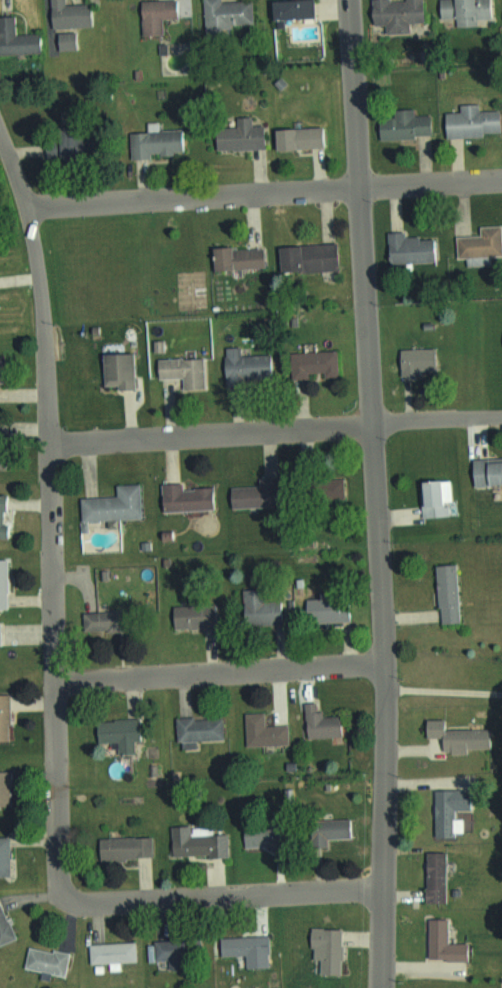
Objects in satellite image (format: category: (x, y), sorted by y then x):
building: (287, 8)
building: (463, 10)
building: (393, 11)
building: (65, 14)
building: (224, 14)
building: (152, 15)
building: (16, 39)
building: (62, 41)
building: (469, 121)
building: (400, 124)
building: (235, 135)
building: (293, 137)
building: (153, 142)
building: (58, 144)
road: (265, 193)
building: (471, 244)
building: (407, 248)
building: (234, 256)
building: (304, 257)
building: (413, 360)
building: (309, 364)
building: (242, 366)
building: (114, 370)
building: (179, 370)
road: (276, 428)
building: (484, 471)
building: (320, 488)
road: (375, 493)
building: (243, 496)
building: (181, 497)
building: (432, 497)
building: (110, 504)
building: (1, 513)
road: (52, 517)
building: (1, 583)
building: (444, 592)
building: (257, 606)
building: (324, 608)
building: (191, 616)
building: (98, 620)
road: (220, 671)
road: (443, 690)
building: (2, 717)
building: (317, 721)
building: (196, 727)
building: (260, 730)
building: (114, 732)
building: (454, 734)
building: (3, 787)
building: (445, 810)
building: (326, 831)
building: (260, 834)
building: (192, 842)
building: (121, 847)
building: (2, 855)
building: (430, 876)
road: (226, 895)
building: (3, 930)
building: (440, 942)
building: (241, 945)
building: (323, 948)
building: (175, 950)
building: (109, 951)
building: (43, 959)

